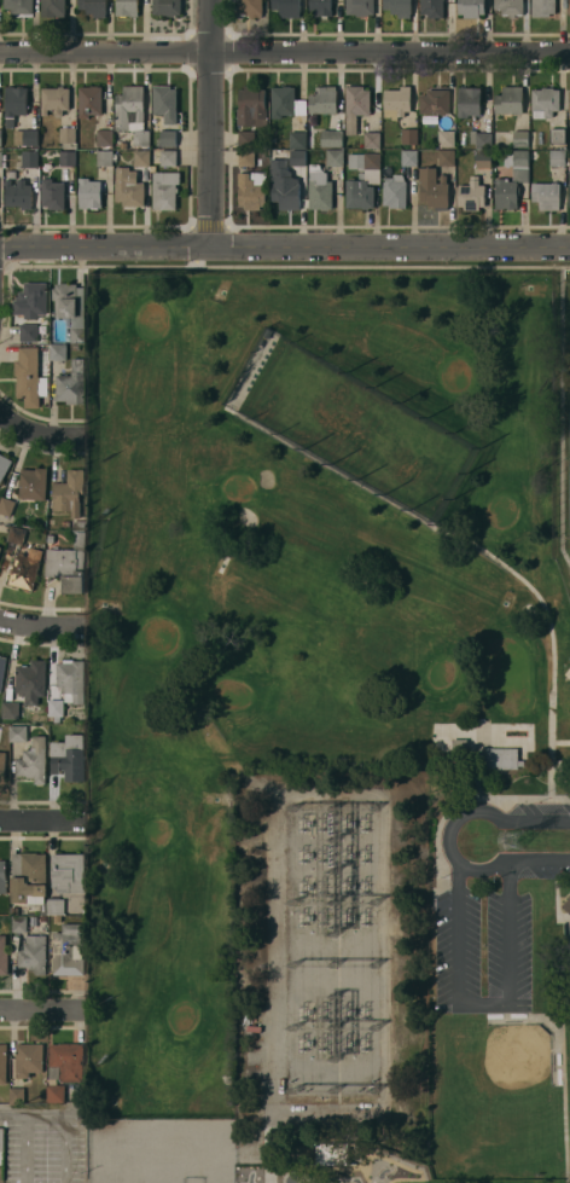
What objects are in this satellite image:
building: (18, 6)
building: (94, 7)
building: (127, 7)
building: (167, 7)
building: (249, 7)
building: (320, 7)
building: (359, 7)
building: (397, 7)
building: (435, 7)
building: (470, 7)
building: (510, 7)
building: (542, 7)
building: (569, 7)
building: (53, 8)
building: (286, 8)
road: (285, 51)
building: (56, 99)
building: (508, 100)
building: (89, 102)
building: (281, 102)
building: (397, 102)
building: (434, 102)
building: (467, 102)
building: (545, 102)
building: (164, 103)
building: (14, 104)
building: (569, 104)
building: (250, 105)
building: (299, 106)
building: (320, 106)
building: (356, 106)
building: (132, 114)
road: (209, 122)
building: (66, 134)
building: (557, 135)
building: (409, 137)
building: (0, 138)
building: (25, 138)
building: (104, 138)
building: (168, 138)
building: (245, 138)
building: (332, 138)
building: (446, 138)
building: (519, 138)
building: (297, 139)
building: (371, 139)
building: (479, 139)
building: (122, 144)
building: (297, 157)
building: (409, 157)
building: (446, 157)
building: (556, 157)
building: (68, 158)
building: (104, 158)
building: (141, 158)
building: (162, 158)
building: (246, 158)
building: (335, 158)
building: (0, 160)
building: (29, 160)
building: (483, 160)
building: (568, 160)
building: (518, 164)
building: (363, 179)
building: (284, 185)
building: (128, 189)
building: (320, 189)
building: (434, 189)
building: (165, 190)
building: (252, 191)
building: (89, 193)
building: (395, 193)
building: (505, 193)
building: (17, 195)
building: (52, 195)
building: (471, 195)
building: (546, 195)
building: (569, 195)
road: (104, 245)
road: (389, 245)
building: (31, 301)
building: (71, 308)
building: (28, 332)
building: (58, 352)
building: (30, 378)
building: (70, 384)
road: (37, 430)
building: (4, 465)
building: (33, 483)
building: (69, 492)
building: (6, 505)
building: (65, 523)
building: (77, 526)
building: (17, 534)
building: (50, 539)
building: (0, 547)
building: (68, 564)
building: (27, 566)
road: (39, 625)
building: (1, 669)
building: (568, 672)
building: (71, 679)
building: (30, 680)
building: (56, 708)
building: (10, 709)
building: (37, 718)
park: (328, 727)
building: (18, 733)
building: (459, 746)
building: (69, 756)
building: (501, 758)
building: (33, 760)
building: (1, 762)
road: (37, 817)
road: (537, 819)
road: (447, 837)
power tower: (517, 840)
road: (540, 859)
building: (68, 872)
road: (508, 875)
building: (2, 876)
road: (456, 877)
building: (29, 880)
building: (568, 904)
building: (57, 906)
building: (14, 910)
building: (43, 918)
building: (33, 921)
building: (19, 923)
road: (456, 945)
road: (508, 946)
building: (68, 950)
power substation: (331, 953)
building: (34, 955)
building: (4, 956)
road: (482, 1003)
road: (37, 1009)
building: (252, 1028)
building: (29, 1059)
building: (66, 1062)
building: (2, 1063)
building: (56, 1094)
building: (17, 1095)
road: (36, 1114)
building: (1, 1138)
road: (23, 1148)
road: (63, 1148)
building: (333, 1153)

